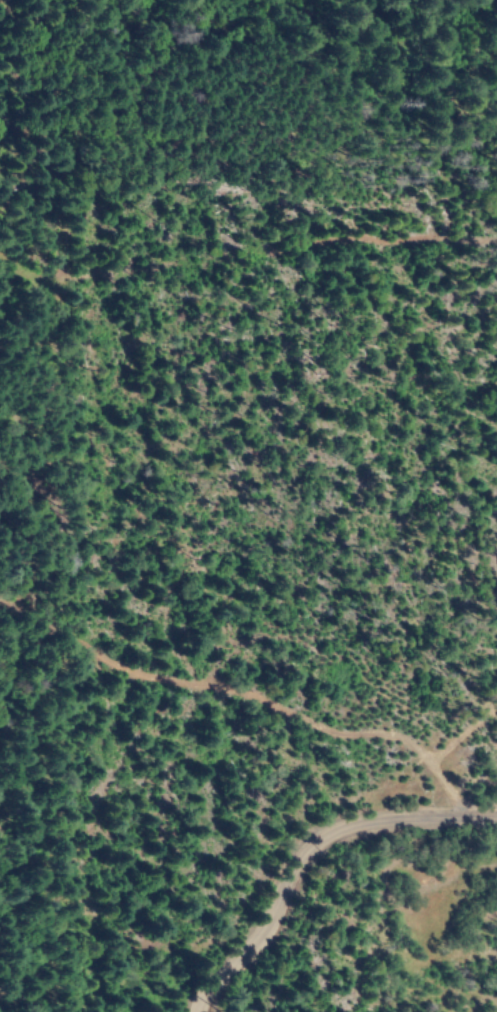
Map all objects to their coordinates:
road: (318, 851)

